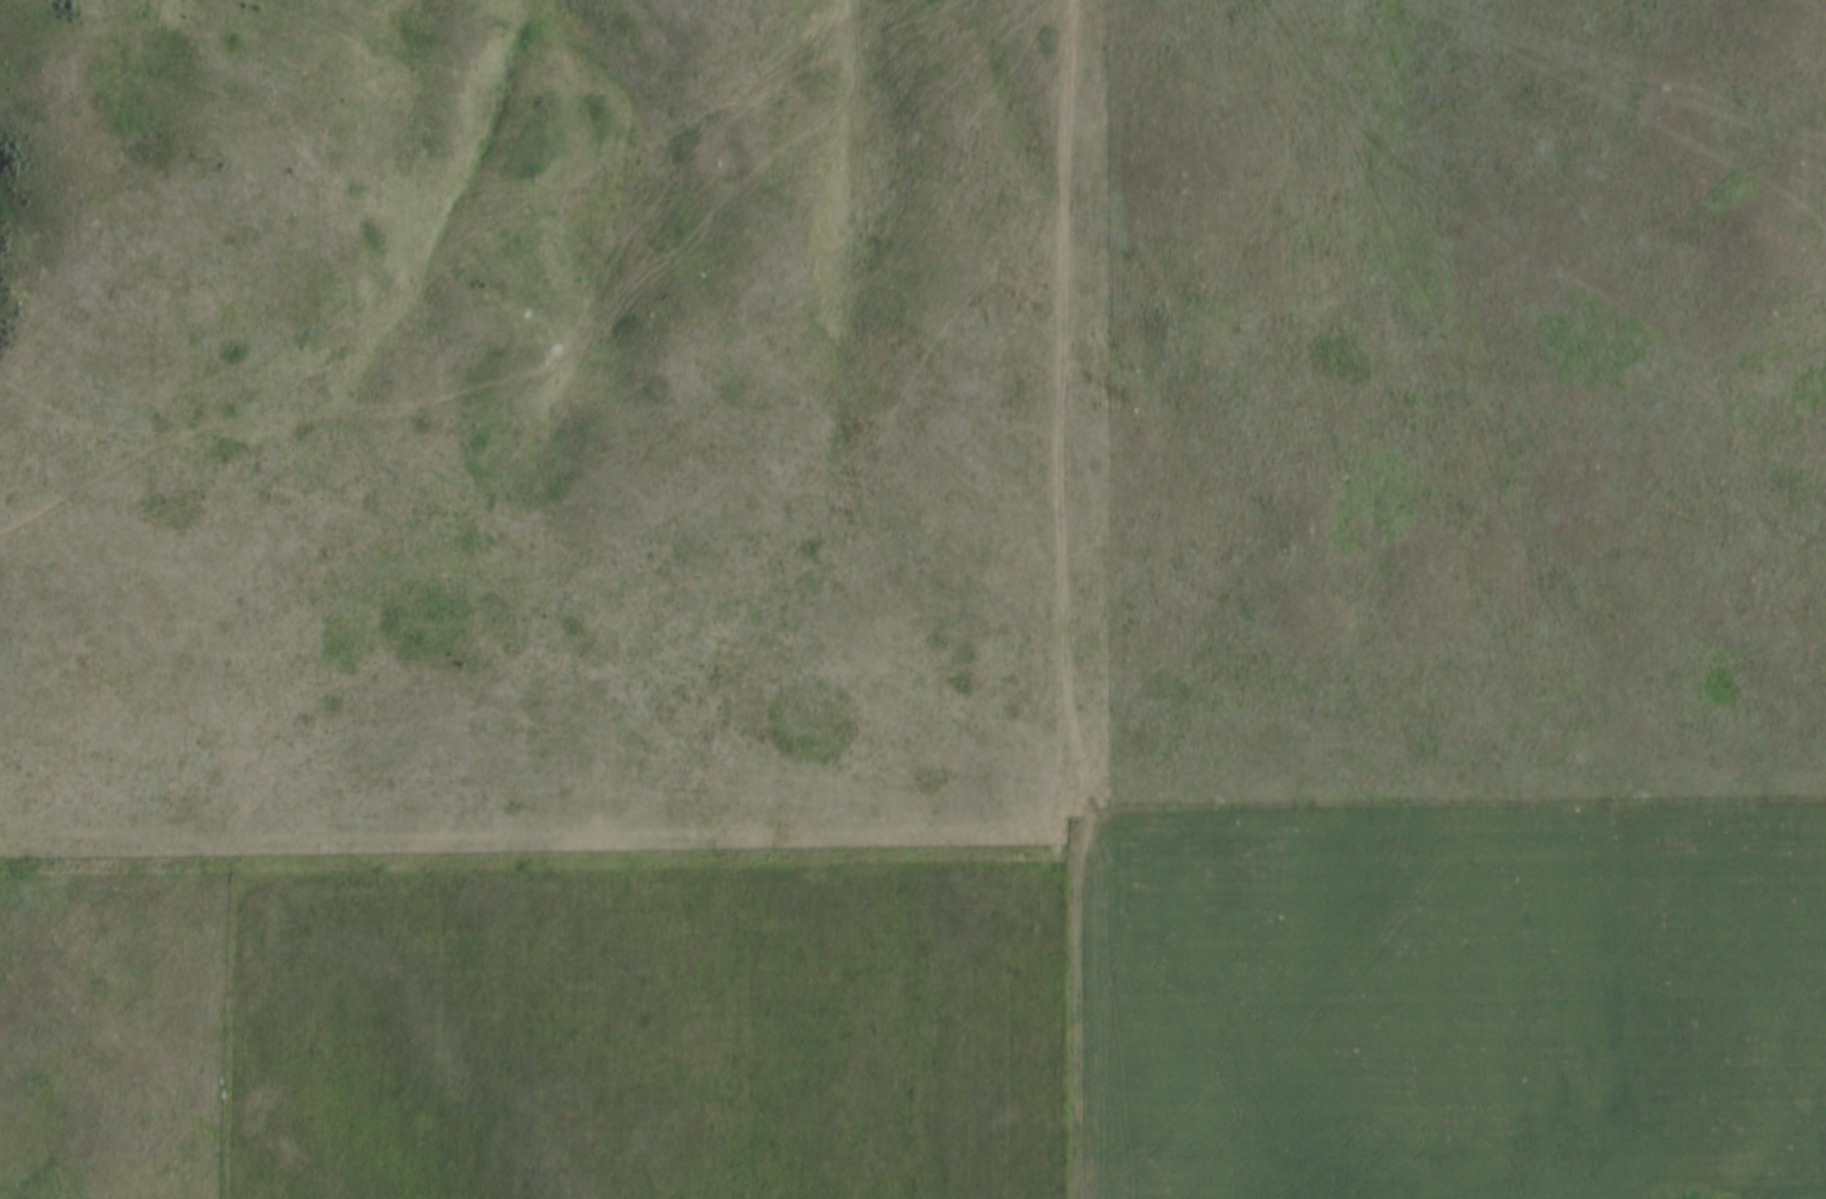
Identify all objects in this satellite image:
road: (1062, 630)

